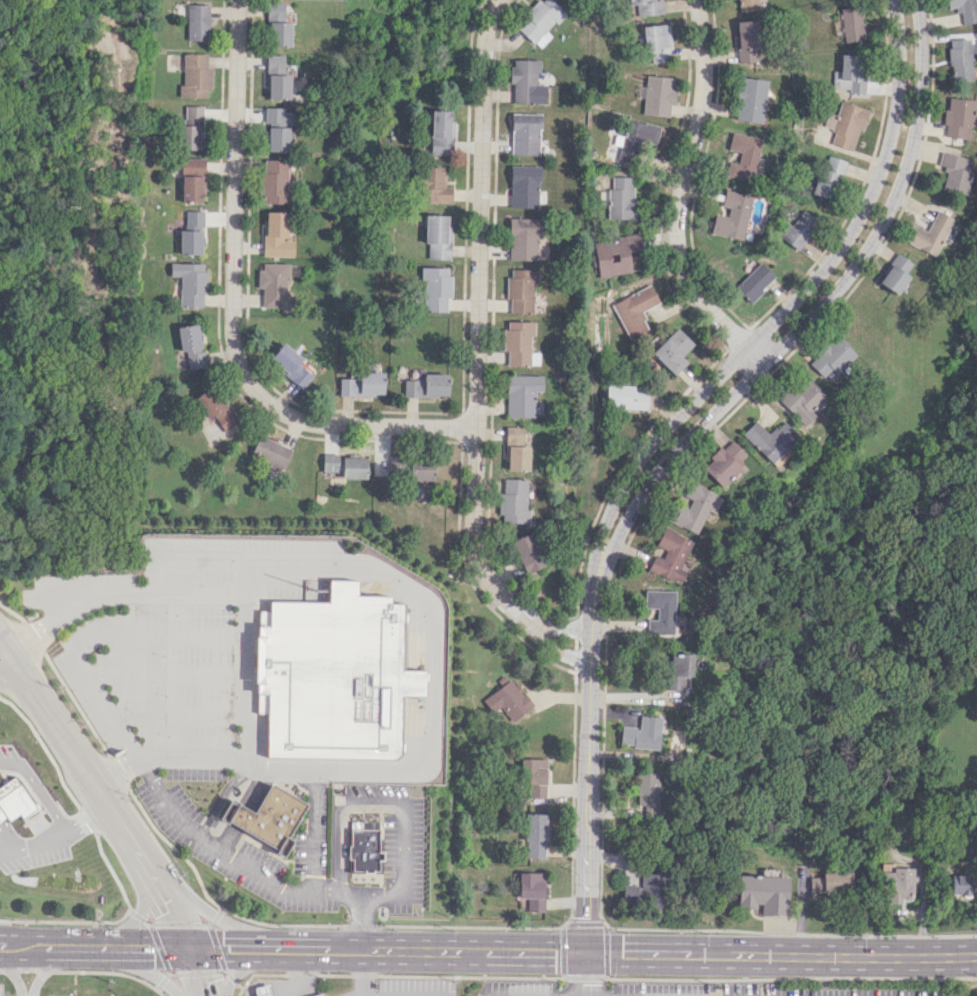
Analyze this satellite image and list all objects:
building: (748, 5)
building: (648, 7)
building: (965, 10)
building: (540, 21)
building: (198, 22)
building: (838, 23)
building: (852, 24)
building: (277, 26)
building: (747, 41)
building: (658, 43)
building: (960, 59)
building: (850, 73)
building: (196, 75)
building: (277, 77)
building: (527, 82)
building: (658, 95)
building: (750, 99)
building: (957, 117)
building: (845, 124)
building: (192, 128)
building: (278, 129)
building: (441, 132)
building: (526, 134)
building: (636, 138)
building: (952, 173)
building: (828, 176)
building: (193, 180)
building: (274, 181)
building: (435, 185)
building: (525, 186)
road: (685, 196)
building: (621, 198)
building: (731, 215)
building: (796, 229)
building: (192, 233)
building: (927, 233)
building: (276, 235)
building: (438, 236)
building: (524, 238)
building: (614, 254)
building: (893, 273)
building: (754, 281)
building: (191, 283)
building: (274, 285)
building: (436, 288)
building: (521, 290)
road: (796, 296)
road: (821, 303)
building: (634, 310)
road: (236, 311)
road: (478, 324)
building: (519, 344)
building: (192, 345)
building: (672, 350)
building: (830, 355)
building: (291, 364)
building: (363, 384)
building: (426, 386)
building: (521, 394)
building: (624, 397)
building: (799, 401)
building: (218, 407)
parking lot: (0, 419)
building: (768, 439)
building: (515, 449)
building: (271, 452)
road: (685, 455)
building: (331, 462)
building: (722, 462)
building: (354, 467)
building: (421, 469)
building: (514, 502)
building: (693, 508)
building: (529, 552)
building: (670, 555)
building: (660, 611)
road: (12, 612)
road: (566, 629)
road: (245, 632)
road: (33, 636)
road: (560, 650)
road: (5, 652)
road: (431, 662)
road: (5, 663)
building: (680, 671)
road: (164, 675)
building: (333, 676)
parking lot: (190, 683)
building: (509, 698)
road: (589, 702)
road: (76, 704)
road: (177, 715)
road: (121, 732)
building: (643, 732)
road: (66, 742)
road: (118, 770)
building: (535, 777)
street lamp: (329, 779)
street lamp: (411, 787)
road: (255, 788)
road: (39, 790)
building: (647, 792)
road: (220, 794)
building: (14, 800)
road: (403, 804)
road: (335, 814)
building: (236, 815)
street lamp: (350, 815)
road: (363, 815)
road: (240, 816)
road: (89, 818)
building: (275, 818)
road: (344, 823)
road: (379, 829)
building: (535, 835)
road: (228, 837)
road: (48, 841)
parking lot: (396, 842)
building: (364, 846)
road: (175, 849)
road: (12, 850)
road: (380, 872)
road: (154, 879)
building: (828, 880)
street lamp: (349, 882)
building: (901, 884)
building: (961, 885)
building: (531, 889)
building: (644, 890)
road: (334, 891)
road: (570, 891)
building: (764, 893)
road: (353, 895)
road: (398, 895)
road: (142, 901)
road: (197, 903)
road: (585, 904)
road: (128, 907)
street lamp: (414, 910)
street lamp: (568, 914)
road: (137, 916)
road: (216, 916)
road: (66, 921)
road: (147, 921)
road: (150, 922)
road: (211, 922)
road: (179, 923)
road: (207, 924)
road: (281, 925)
road: (360, 926)
road: (14, 934)
road: (105, 934)
traffic signals: (182, 935)
road: (260, 937)
road: (187, 946)
road: (159, 947)
road: (217, 947)
road: (398, 948)
road: (521, 950)
road: (562, 951)
traffic signals: (584, 952)
road: (657, 952)
road: (605, 953)
road: (15, 956)
road: (111, 956)
road: (854, 956)
traffic signals: (193, 958)
road: (266, 958)
road: (47, 968)
road: (7, 970)
road: (26, 970)
road: (224, 970)
road: (45, 971)
road: (106, 971)
road: (168, 971)
road: (198, 971)
road: (224, 971)
road: (300, 971)
road: (361, 971)
road: (149, 973)
road: (170, 973)
road: (235, 973)
road: (257, 974)
road: (300, 974)
road: (333, 974)
road: (584, 974)
road: (363, 975)
road: (468, 976)
road: (198, 977)
road: (231, 977)
road: (14, 978)
road: (627, 978)
road: (162, 981)
street lamp: (551, 981)
gas station: (288, 987)
parking lot: (408, 987)
building: (264, 990)
road: (158, 991)
road: (240, 991)
parking lot: (2, 992)
parking lot: (57, 995)
building: (319, 995)
road: (589, 995)

